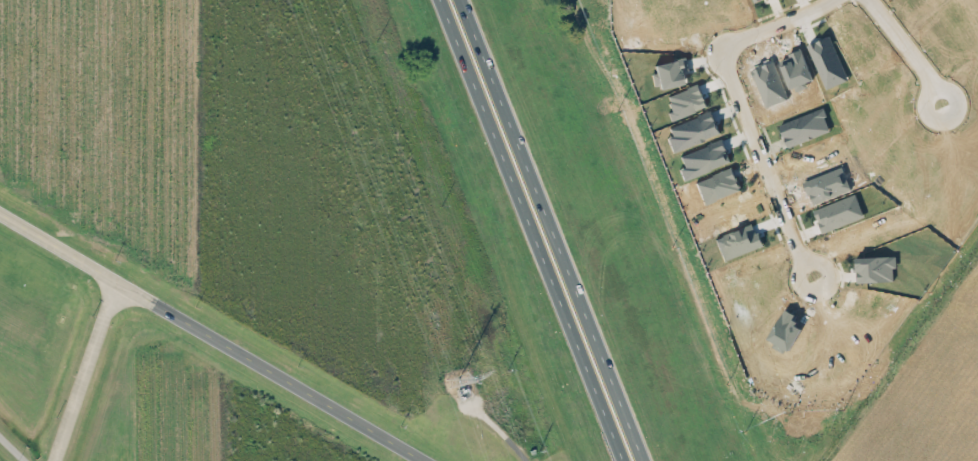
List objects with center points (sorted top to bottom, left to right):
road: (906, 51)
road: (742, 112)
crop: (275, 187)
road: (536, 230)
road: (555, 230)
road: (210, 338)
road: (82, 371)
power tower: (455, 380)
crop: (191, 419)
road: (504, 436)
road: (13, 447)

